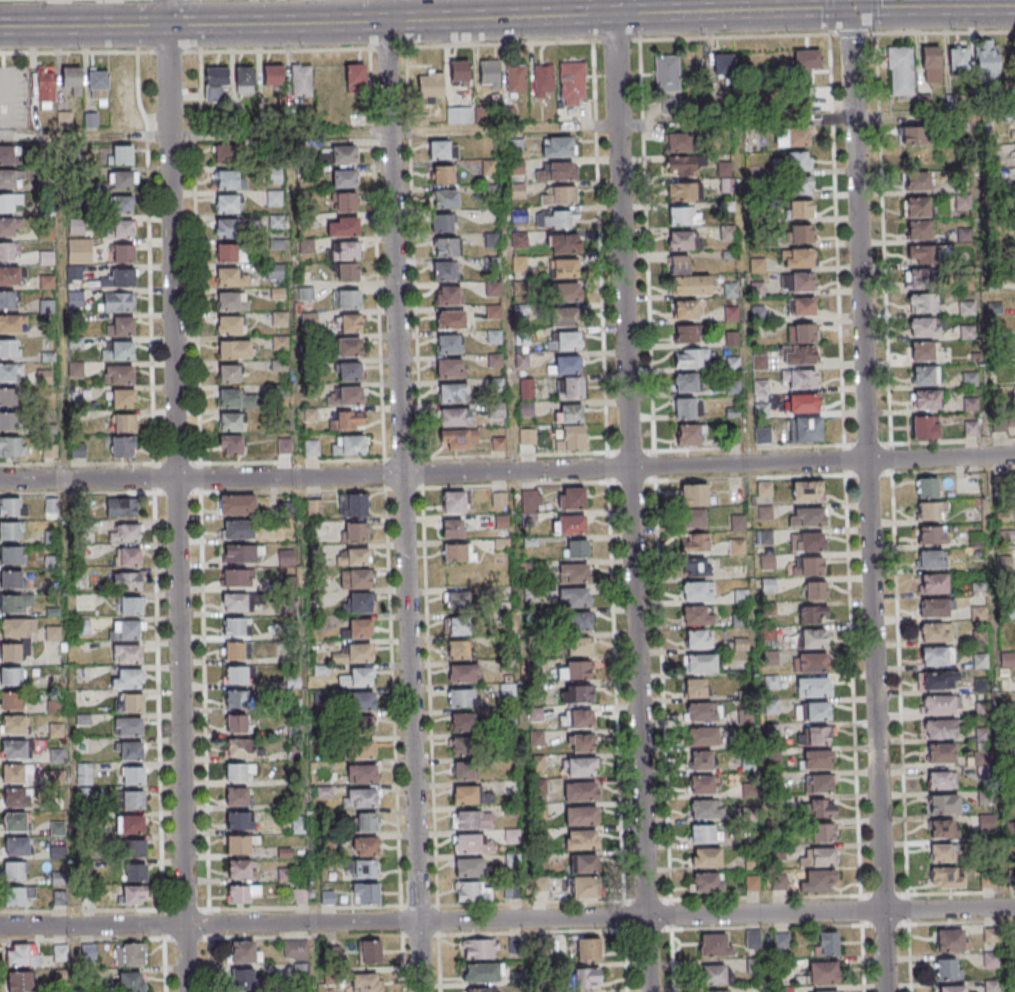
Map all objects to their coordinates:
traffic signals: (850, 7)
road: (590, 13)
road: (875, 15)
road: (830, 16)
road: (83, 25)
road: (946, 31)
road: (853, 32)
road: (616, 40)
road: (388, 47)
road: (75, 51)
road: (169, 51)
road: (193, 51)
building: (806, 58)
building: (958, 58)
building: (986, 60)
building: (722, 63)
building: (930, 63)
building: (459, 70)
building: (900, 70)
building: (488, 73)
building: (666, 73)
building: (272, 75)
building: (355, 77)
building: (244, 80)
building: (543, 80)
building: (97, 81)
building: (517, 81)
building: (44, 82)
building: (70, 82)
building: (301, 82)
building: (216, 83)
building: (572, 83)
building: (431, 84)
building: (460, 115)
building: (90, 122)
road: (591, 125)
building: (1012, 129)
road: (84, 135)
building: (910, 135)
building: (792, 136)
building: (680, 141)
building: (556, 146)
building: (440, 149)
building: (344, 155)
building: (9, 156)
building: (121, 156)
building: (225, 157)
building: (798, 161)
building: (680, 165)
building: (558, 171)
building: (441, 173)
building: (274, 176)
building: (344, 178)
building: (10, 179)
building: (917, 181)
building: (121, 183)
building: (227, 183)
building: (799, 185)
building: (684, 190)
building: (558, 194)
building: (274, 198)
building: (444, 198)
building: (10, 201)
building: (343, 201)
building: (962, 201)
building: (122, 207)
building: (227, 207)
building: (916, 207)
building: (800, 209)
building: (683, 215)
building: (557, 218)
building: (441, 221)
building: (343, 226)
building: (9, 228)
building: (76, 228)
building: (118, 230)
building: (918, 230)
building: (226, 231)
building: (727, 233)
building: (799, 233)
building: (964, 234)
building: (683, 239)
building: (518, 240)
building: (562, 243)
building: (306, 246)
building: (444, 246)
building: (9, 250)
building: (346, 250)
building: (79, 251)
building: (917, 254)
building: (227, 256)
building: (124, 257)
building: (797, 257)
building: (679, 264)
building: (565, 268)
building: (274, 271)
building: (444, 271)
building: (345, 272)
building: (74, 273)
building: (10, 275)
building: (919, 278)
building: (123, 281)
building: (227, 281)
building: (47, 282)
building: (797, 282)
building: (690, 284)
building: (492, 288)
building: (566, 292)
building: (447, 295)
building: (9, 298)
building: (75, 299)
building: (349, 299)
road: (886, 299)
building: (117, 302)
building: (922, 303)
building: (227, 305)
building: (802, 306)
building: (684, 309)
building: (565, 316)
building: (449, 319)
building: (13, 323)
building: (352, 323)
building: (924, 327)
building: (228, 329)
building: (122, 330)
building: (802, 332)
road: (150, 333)
building: (683, 333)
building: (566, 340)
building: (449, 343)
building: (349, 346)
building: (8, 347)
building: (234, 349)
building: (923, 351)
building: (122, 354)
building: (799, 355)
building: (690, 357)
building: (566, 364)
building: (449, 367)
building: (348, 371)
building: (10, 373)
building: (924, 375)
building: (118, 377)
building: (228, 377)
building: (799, 379)
building: (685, 382)
building: (572, 387)
building: (760, 387)
building: (452, 392)
building: (347, 396)
building: (8, 398)
building: (926, 400)
building: (121, 402)
building: (229, 402)
building: (803, 403)
building: (685, 408)
building: (526, 409)
building: (497, 410)
building: (568, 413)
building: (455, 416)
building: (348, 420)
building: (8, 422)
building: (124, 422)
building: (230, 425)
building: (925, 426)
building: (971, 428)
building: (805, 429)
building: (688, 434)
building: (568, 437)
building: (457, 438)
building: (528, 440)
building: (497, 443)
building: (350, 445)
building: (122, 446)
building: (11, 447)
building: (311, 447)
building: (231, 449)
building: (77, 450)
road: (652, 450)
road: (420, 456)
road: (207, 462)
road: (507, 471)
building: (926, 487)
building: (807, 490)
building: (695, 494)
road: (402, 495)
road: (175, 496)
building: (531, 496)
road: (630, 496)
road: (867, 496)
building: (570, 497)
building: (499, 499)
building: (453, 501)
building: (352, 504)
building: (237, 505)
building: (12, 506)
building: (121, 507)
building: (928, 511)
building: (807, 515)
building: (692, 518)
building: (491, 522)
building: (737, 522)
building: (568, 524)
building: (452, 528)
building: (11, 530)
building: (238, 530)
building: (354, 531)
building: (124, 533)
building: (930, 535)
building: (765, 537)
building: (809, 541)
building: (694, 542)
building: (736, 546)
building: (576, 548)
building: (11, 553)
building: (458, 553)
building: (239, 554)
building: (354, 556)
building: (130, 557)
building: (286, 557)
building: (929, 559)
building: (696, 566)
building: (807, 566)
building: (573, 573)
building: (237, 576)
building: (10, 578)
building: (355, 578)
building: (126, 582)
building: (933, 584)
building: (815, 589)
building: (696, 590)
building: (741, 596)
building: (574, 597)
building: (457, 600)
building: (238, 601)
building: (14, 602)
building: (357, 603)
building: (131, 606)
building: (934, 607)
building: (977, 612)
building: (812, 613)
building: (696, 615)
building: (578, 620)
building: (739, 620)
building: (232, 626)
building: (456, 626)
building: (357, 629)
building: (125, 630)
building: (934, 632)
building: (53, 634)
building: (812, 638)
building: (698, 639)
building: (16, 640)
building: (577, 646)
building: (232, 650)
building: (458, 650)
building: (126, 653)
building: (353, 653)
building: (937, 655)
building: (810, 662)
building: (699, 663)
building: (506, 666)
building: (573, 669)
building: (233, 674)
building: (10, 675)
building: (463, 675)
building: (358, 677)
building: (128, 678)
building: (938, 680)
building: (695, 687)
building: (812, 687)
building: (574, 694)
building: (234, 698)
building: (461, 699)
building: (361, 700)
building: (10, 701)
building: (132, 703)
building: (937, 705)
building: (812, 710)
building: (702, 711)
building: (576, 718)
building: (234, 722)
building: (461, 722)
building: (13, 723)
road: (203, 724)
building: (359, 724)
building: (128, 726)
road: (157, 728)
building: (940, 728)
building: (816, 735)
building: (701, 736)
building: (580, 743)
building: (234, 746)
building: (462, 747)
building: (13, 749)
building: (359, 749)
building: (130, 750)
building: (939, 753)
building: (815, 759)
building: (699, 760)
building: (579, 766)
building: (233, 771)
building: (462, 771)
building: (17, 773)
building: (361, 774)
building: (134, 776)
building: (941, 780)
building: (821, 783)
building: (702, 785)
building: (579, 791)
building: (233, 795)
building: (15, 797)
building: (133, 799)
building: (361, 799)
building: (942, 804)
building: (703, 808)
building: (821, 808)
building: (580, 815)
building: (234, 819)
building: (472, 819)
building: (15, 821)
building: (367, 822)
building: (129, 824)
building: (298, 825)
building: (942, 828)
building: (822, 832)
building: (704, 833)
building: (512, 835)
building: (581, 839)
building: (234, 844)
building: (471, 844)
building: (17, 845)
building: (364, 846)
building: (134, 849)
building: (940, 852)
building: (705, 857)
building: (822, 857)
building: (583, 863)
building: (468, 867)
building: (235, 868)
building: (365, 868)
building: (13, 871)
building: (134, 872)
building: (285, 875)
building: (945, 878)
building: (987, 880)
building: (814, 881)
building: (707, 882)
building: (543, 883)
building: (752, 883)
building: (582, 887)
building: (467, 892)
building: (366, 893)
building: (133, 894)
building: (236, 894)
building: (18, 895)
building: (300, 895)
building: (327, 897)
building: (58, 898)
road: (507, 920)
building: (990, 935)
building: (753, 939)
building: (951, 939)
building: (825, 943)
building: (715, 944)
building: (588, 949)
building: (89, 950)
building: (296, 950)
building: (479, 950)
building: (245, 951)
building: (368, 951)
building: (60, 954)
building: (129, 955)
building: (20, 956)
road: (671, 961)
building: (946, 968)
building: (822, 972)
building: (715, 973)
building: (481, 974)
building: (582, 978)
building: (243, 979)
building: (18, 982)
building: (130, 982)
building: (366, 982)
building: (991, 986)
building: (951, 989)
building: (479, 991)
building: (715, 991)
building: (821, 991)

